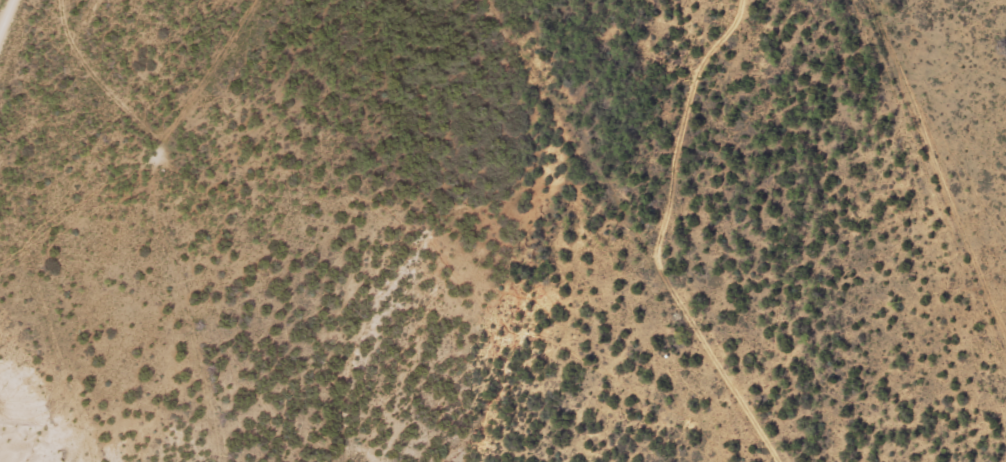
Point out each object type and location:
road: (1, 3)

